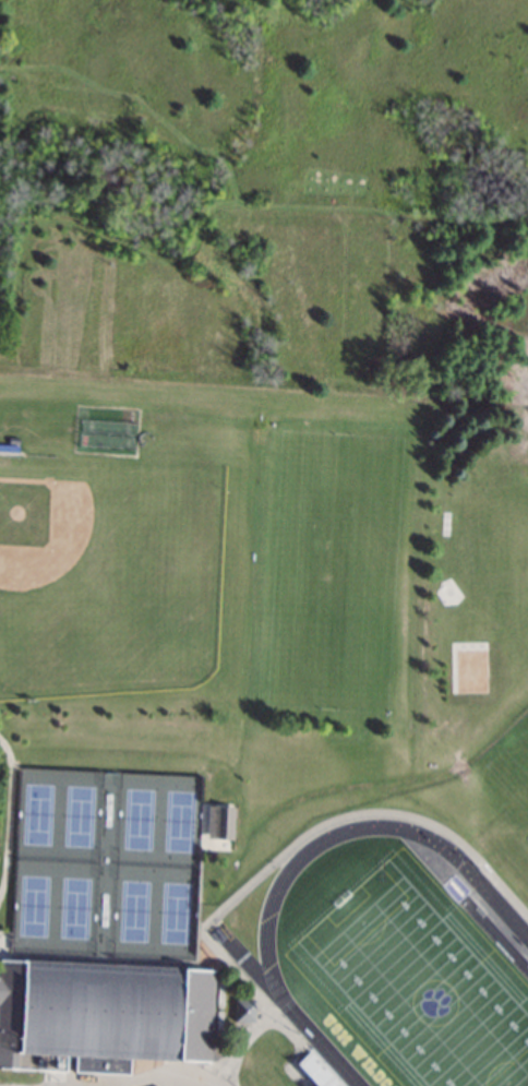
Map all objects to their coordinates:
park: (108, 572)
park: (333, 572)
park: (511, 771)
park: (38, 813)
park: (80, 814)
park: (137, 818)
park: (179, 820)
building: (219, 822)
park: (34, 905)
park: (74, 906)
park: (134, 909)
park: (173, 911)
track: (244, 956)
park: (419, 981)
park: (421, 984)
building: (244, 1011)
building: (101, 1014)
building: (94, 1063)
road: (159, 1081)

